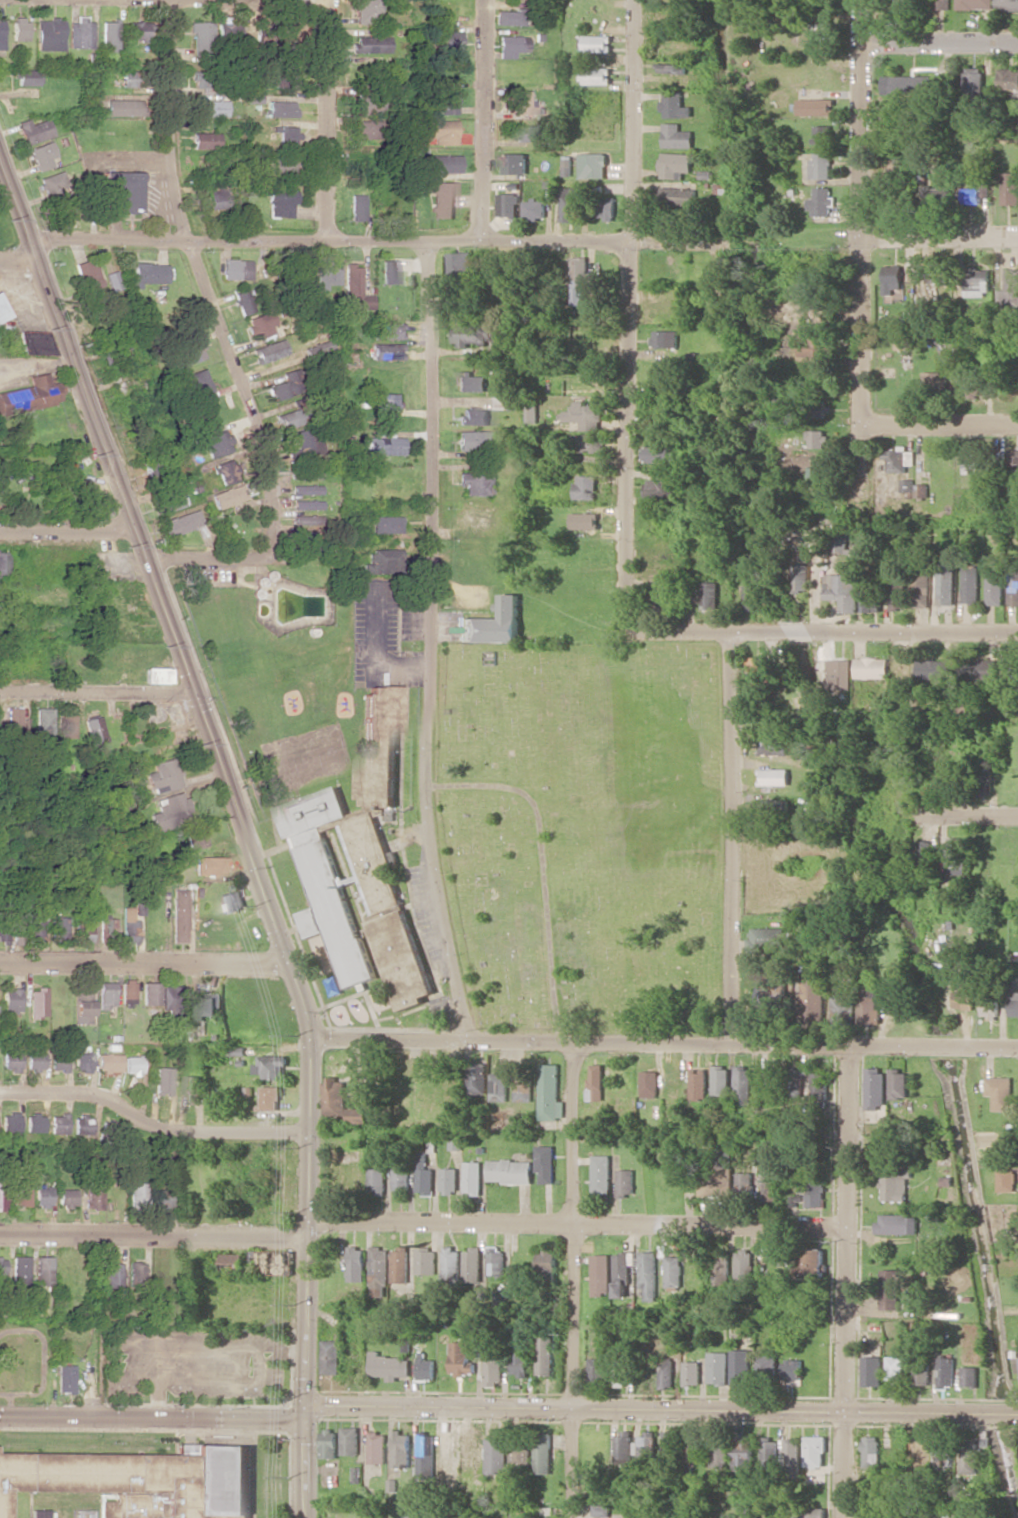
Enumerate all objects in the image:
building: (942, 4)
building: (1007, 5)
building: (367, 11)
building: (508, 17)
building: (19, 28)
building: (137, 31)
building: (81, 33)
building: (288, 33)
building: (1, 34)
building: (50, 34)
building: (110, 35)
building: (200, 35)
building: (451, 39)
road: (941, 40)
building: (597, 43)
building: (369, 44)
building: (511, 45)
building: (673, 67)
building: (597, 75)
building: (27, 77)
building: (129, 78)
building: (1007, 78)
building: (286, 80)
building: (202, 81)
building: (974, 82)
building: (908, 84)
building: (368, 100)
building: (446, 101)
building: (520, 103)
building: (675, 105)
building: (815, 106)
building: (122, 107)
building: (209, 107)
building: (279, 108)
road: (486, 119)
road: (326, 120)
building: (364, 129)
building: (34, 130)
building: (439, 131)
building: (525, 133)
building: (824, 133)
building: (284, 136)
building: (677, 136)
building: (205, 140)
building: (42, 155)
building: (282, 163)
building: (442, 163)
building: (514, 163)
building: (677, 164)
building: (592, 165)
building: (822, 165)
building: (898, 166)
building: (51, 183)
building: (125, 188)
building: (1010, 188)
building: (986, 190)
building: (679, 195)
building: (938, 195)
building: (970, 195)
building: (218, 199)
building: (443, 199)
building: (280, 201)
building: (822, 201)
building: (570, 203)
building: (509, 204)
building: (356, 207)
building: (535, 208)
road: (941, 234)
road: (834, 236)
road: (373, 242)
road: (864, 246)
road: (15, 261)
building: (461, 261)
building: (235, 269)
building: (388, 271)
building: (148, 273)
building: (326, 274)
road: (198, 275)
building: (1011, 277)
building: (299, 278)
building: (112, 280)
building: (580, 280)
building: (978, 281)
building: (353, 288)
building: (241, 301)
building: (512, 309)
building: (3, 310)
road: (629, 311)
building: (260, 325)
building: (385, 331)
building: (473, 334)
building: (665, 338)
building: (35, 342)
building: (317, 347)
building: (813, 347)
building: (386, 350)
building: (267, 351)
building: (190, 352)
building: (110, 356)
building: (470, 381)
building: (933, 383)
building: (284, 385)
building: (199, 386)
building: (976, 388)
building: (30, 395)
building: (386, 400)
building: (586, 415)
building: (474, 416)
building: (287, 418)
road: (941, 420)
building: (818, 438)
building: (469, 440)
building: (588, 442)
building: (214, 443)
building: (380, 444)
building: (659, 453)
building: (899, 459)
building: (1012, 459)
building: (971, 461)
building: (225, 467)
building: (472, 483)
building: (910, 485)
building: (588, 486)
building: (661, 488)
building: (304, 489)
building: (170, 501)
building: (93, 504)
building: (305, 504)
building: (476, 516)
building: (585, 520)
building: (182, 522)
building: (304, 523)
building: (384, 524)
road: (63, 526)
building: (841, 544)
road: (209, 558)
building: (380, 560)
building: (3, 564)
building: (802, 577)
building: (946, 583)
building: (994, 584)
building: (970, 585)
building: (1013, 585)
building: (921, 589)
building: (843, 590)
building: (711, 594)
building: (898, 595)
building: (751, 597)
building: (872, 598)
building: (494, 624)
road: (825, 631)
road: (425, 642)
building: (872, 667)
building: (934, 669)
building: (983, 669)
building: (758, 673)
building: (840, 673)
building: (156, 675)
road: (91, 689)
building: (13, 719)
building: (44, 723)
building: (64, 725)
building: (93, 730)
building: (774, 745)
building: (380, 749)
building: (161, 776)
building: (774, 776)
building: (775, 807)
building: (168, 812)
road: (969, 816)
road: (235, 832)
park: (588, 833)
building: (193, 836)
road: (736, 836)
building: (925, 854)
building: (957, 855)
building: (208, 865)
building: (231, 901)
building: (178, 915)
building: (313, 922)
building: (128, 925)
building: (57, 927)
building: (33, 929)
building: (82, 929)
building: (106, 929)
building: (3, 930)
building: (394, 931)
building: (768, 937)
road: (141, 960)
building: (105, 994)
building: (127, 994)
building: (814, 996)
building: (964, 999)
building: (10, 1000)
building: (166, 1001)
building: (37, 1002)
building: (81, 1005)
building: (208, 1005)
building: (870, 1005)
building: (843, 1010)
building: (990, 1011)
road: (664, 1040)
building: (9, 1061)
building: (33, 1061)
building: (57, 1061)
building: (81, 1061)
building: (108, 1062)
building: (132, 1065)
building: (273, 1066)
building: (480, 1077)
building: (799, 1079)
building: (723, 1080)
building: (774, 1080)
building: (162, 1081)
building: (598, 1083)
building: (652, 1083)
building: (701, 1083)
building: (821, 1083)
building: (898, 1083)
building: (745, 1084)
building: (502, 1086)
building: (875, 1086)
building: (193, 1088)
building: (526, 1089)
building: (1000, 1092)
building: (553, 1093)
building: (336, 1097)
building: (271, 1098)
building: (360, 1115)
building: (8, 1121)
building: (32, 1122)
building: (56, 1123)
building: (80, 1124)
road: (151, 1125)
building: (108, 1128)
building: (458, 1141)
building: (727, 1156)
building: (548, 1163)
building: (513, 1171)
building: (604, 1173)
building: (426, 1174)
building: (475, 1177)
building: (403, 1179)
building: (379, 1180)
building: (451, 1180)
building: (747, 1180)
building: (1007, 1180)
building: (629, 1182)
building: (727, 1182)
building: (772, 1186)
building: (895, 1186)
building: (136, 1192)
building: (814, 1192)
building: (19, 1193)
building: (1, 1195)
building: (40, 1195)
building: (92, 1196)
building: (161, 1196)
building: (64, 1197)
building: (898, 1224)
road: (423, 1225)
building: (428, 1260)
building: (273, 1261)
building: (498, 1261)
building: (549, 1261)
building: (234, 1262)
building: (453, 1262)
building: (814, 1262)
building: (357, 1263)
building: (401, 1264)
building: (474, 1264)
building: (745, 1265)
building: (380, 1266)
building: (723, 1268)
building: (1, 1270)
building: (18, 1270)
building: (41, 1270)
building: (676, 1271)
building: (134, 1273)
building: (603, 1273)
building: (624, 1273)
building: (111, 1274)
building: (651, 1274)
road: (579, 1279)
road: (846, 1281)
building: (891, 1289)
building: (547, 1355)
building: (331, 1356)
building: (462, 1358)
building: (520, 1359)
road: (41, 1361)
building: (769, 1363)
building: (390, 1366)
building: (721, 1367)
building: (743, 1367)
building: (895, 1367)
building: (922, 1367)
building: (427, 1368)
building: (795, 1369)
building: (495, 1370)
building: (873, 1370)
building: (598, 1371)
building: (946, 1371)
building: (669, 1372)
building: (695, 1372)
building: (622, 1376)
building: (970, 1376)
building: (63, 1378)
road: (509, 1408)
traffic signals: (305, 1412)
building: (351, 1440)
building: (988, 1440)
building: (330, 1443)
building: (670, 1444)
building: (647, 1445)
building: (378, 1447)
building: (473, 1447)
building: (625, 1448)
building: (401, 1449)
building: (450, 1450)
building: (693, 1450)
building: (722, 1451)
building: (771, 1451)
building: (816, 1451)
building: (872, 1451)
building: (544, 1452)
building: (746, 1452)
building: (427, 1454)
building: (521, 1454)
building: (794, 1454)
building: (497, 1455)
building: (942, 1456)
building: (138, 1474)
building: (602, 1510)
building: (816, 1511)
building: (38, 1513)
building: (56, 1513)

